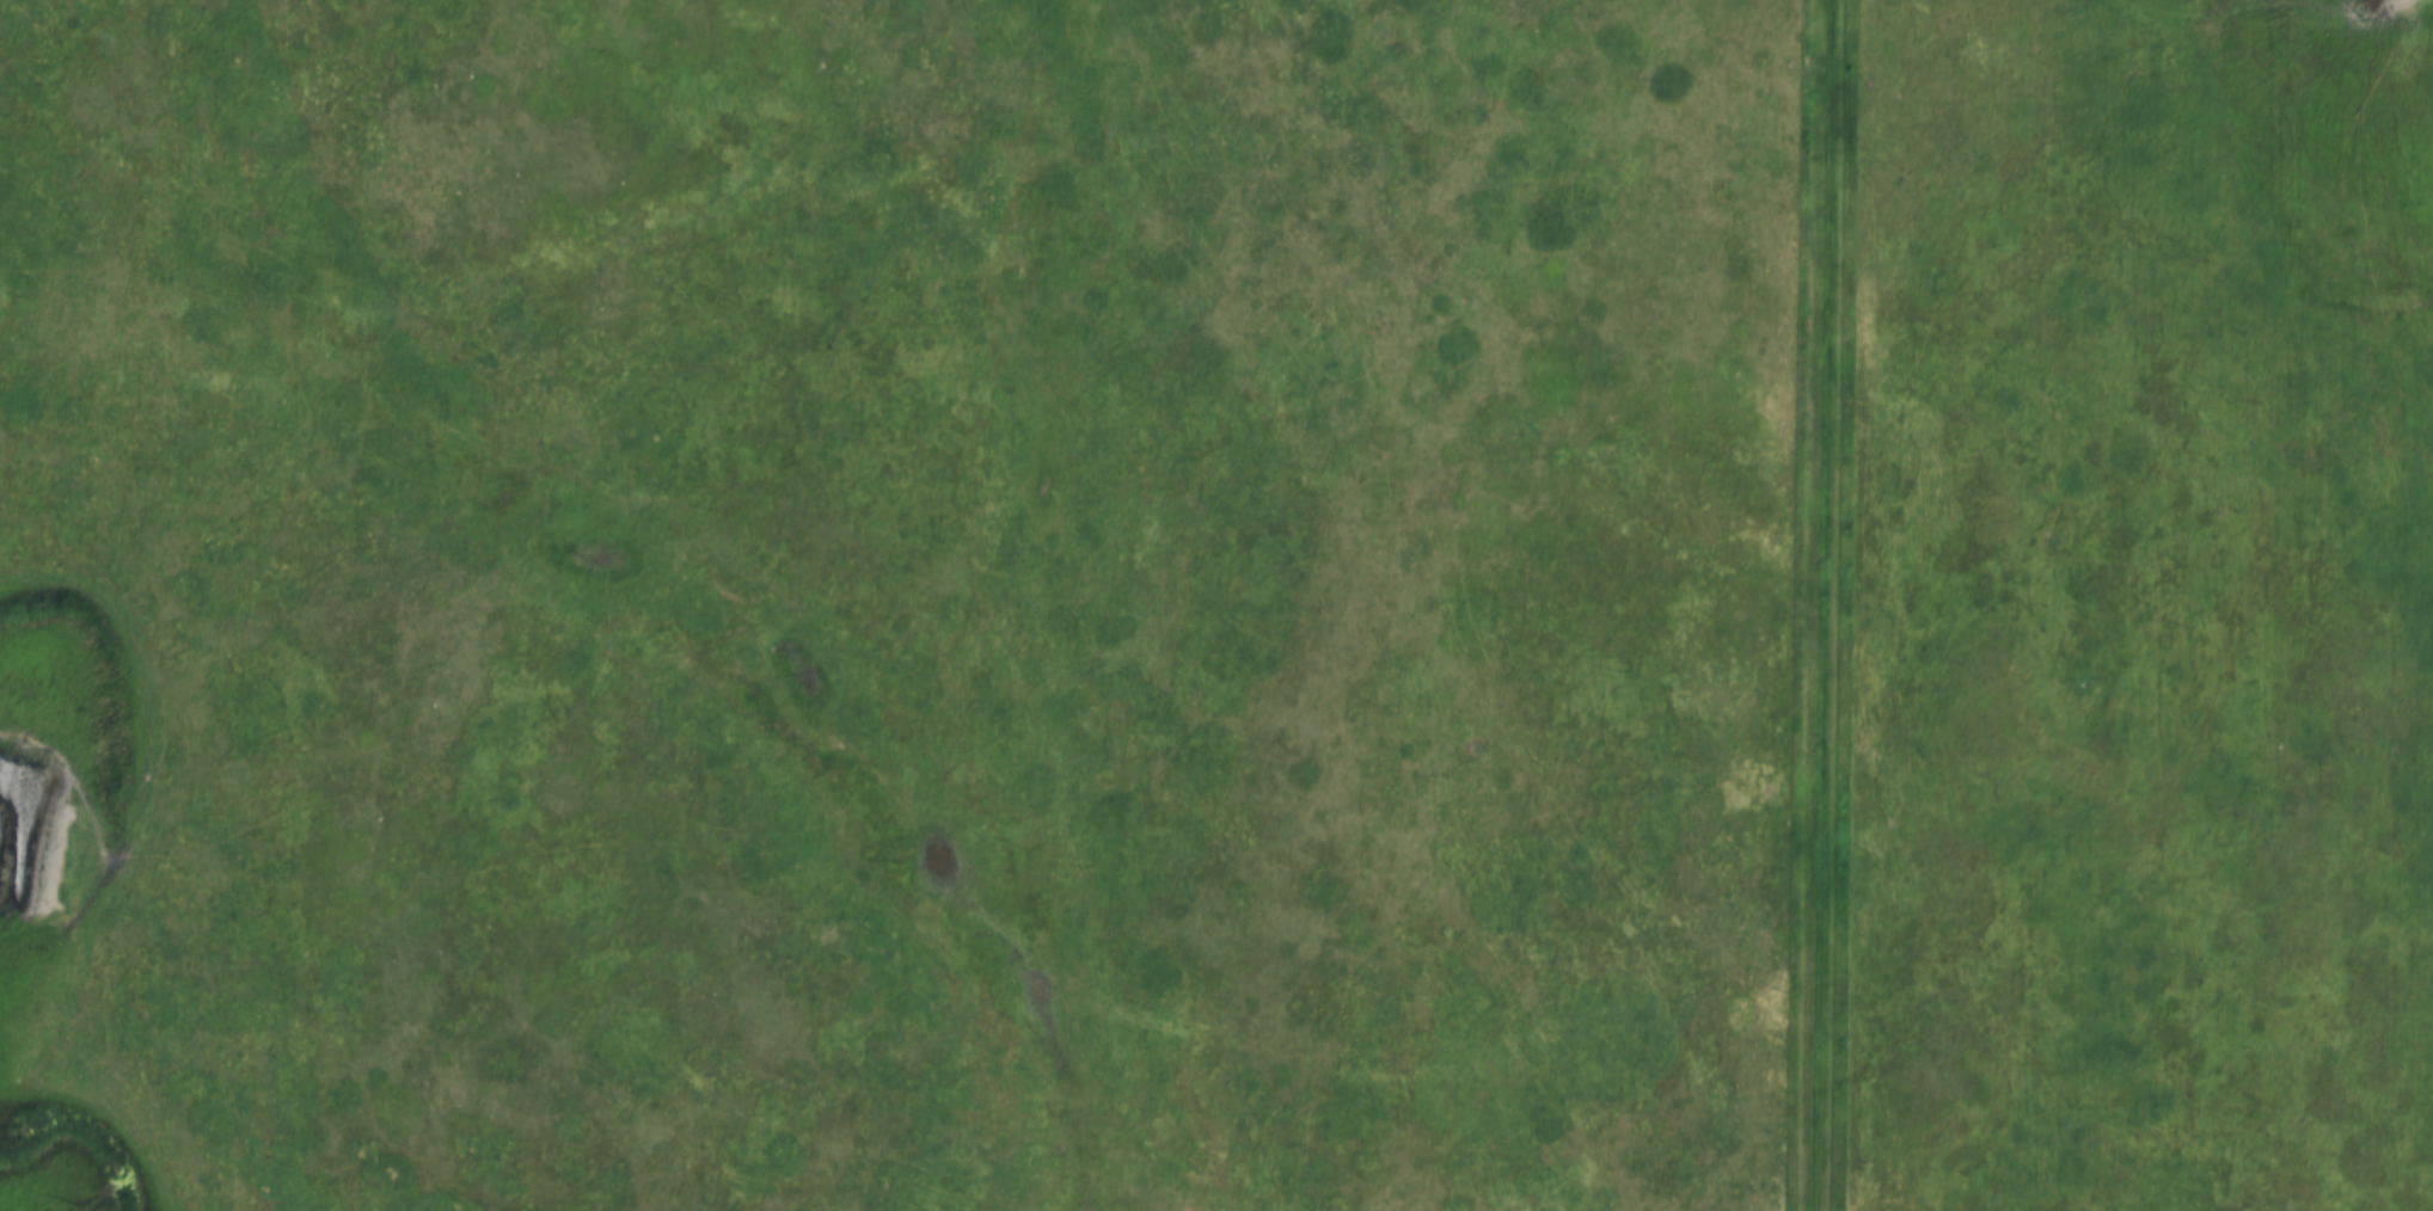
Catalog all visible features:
road: (1833, 604)

